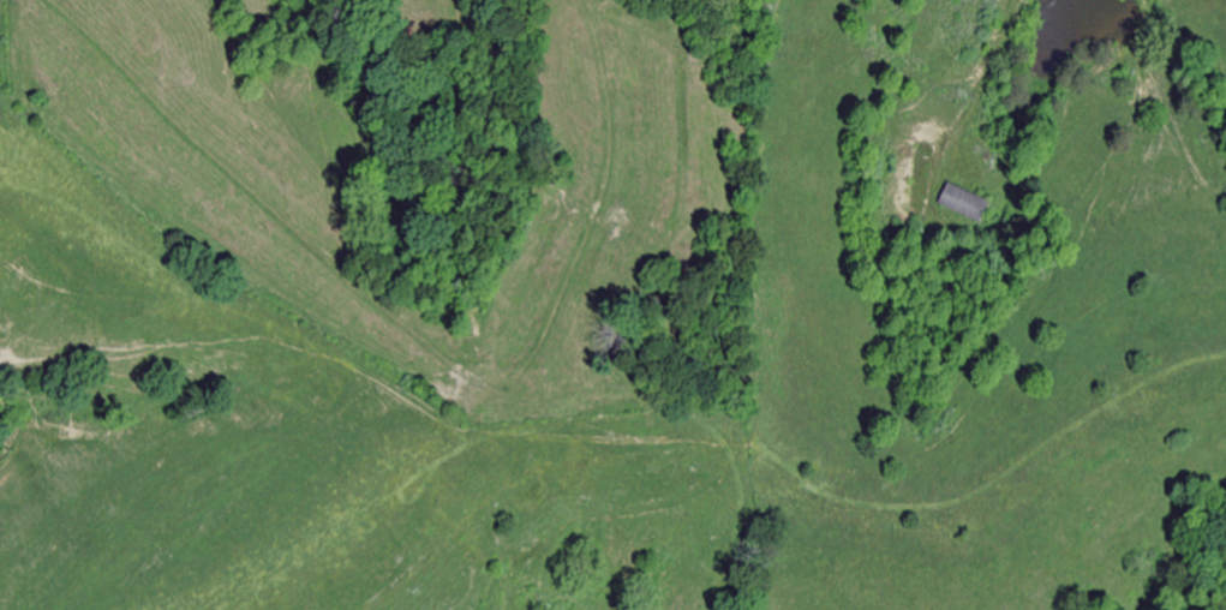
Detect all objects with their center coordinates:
building: (965, 204)

